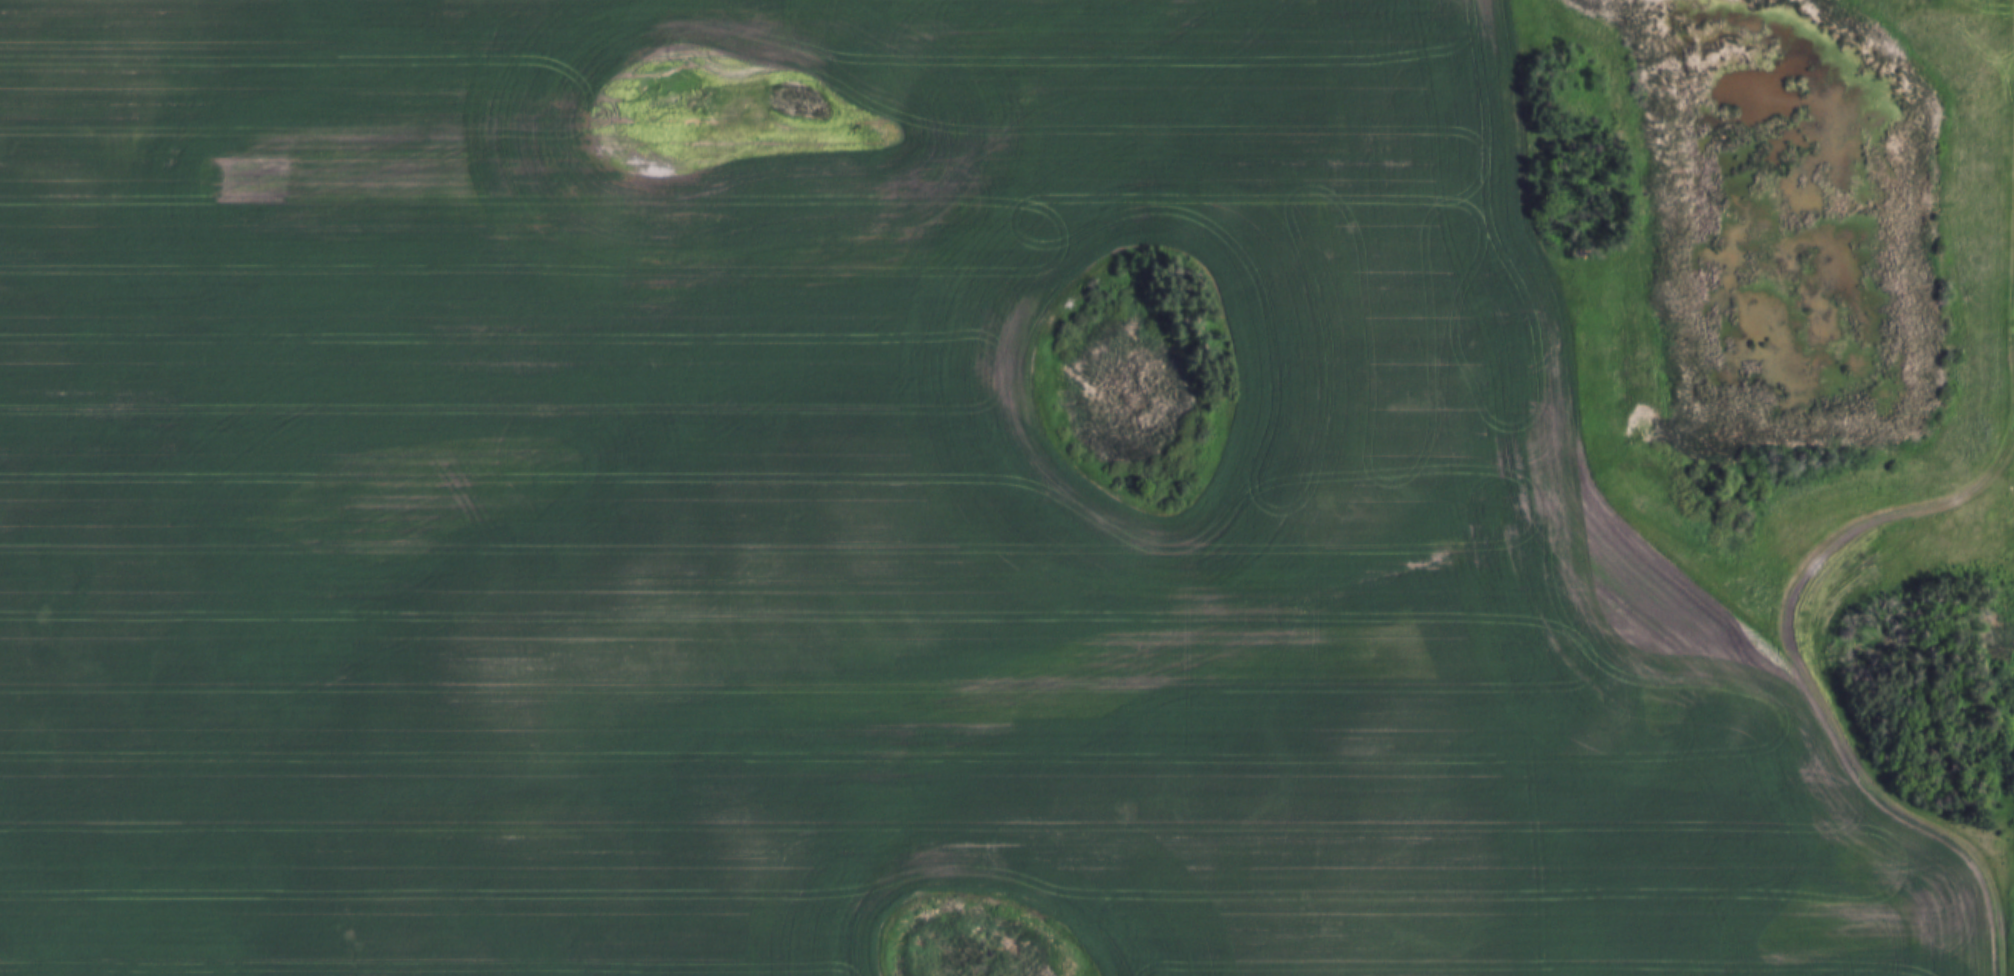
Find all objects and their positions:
road: (1833, 689)

